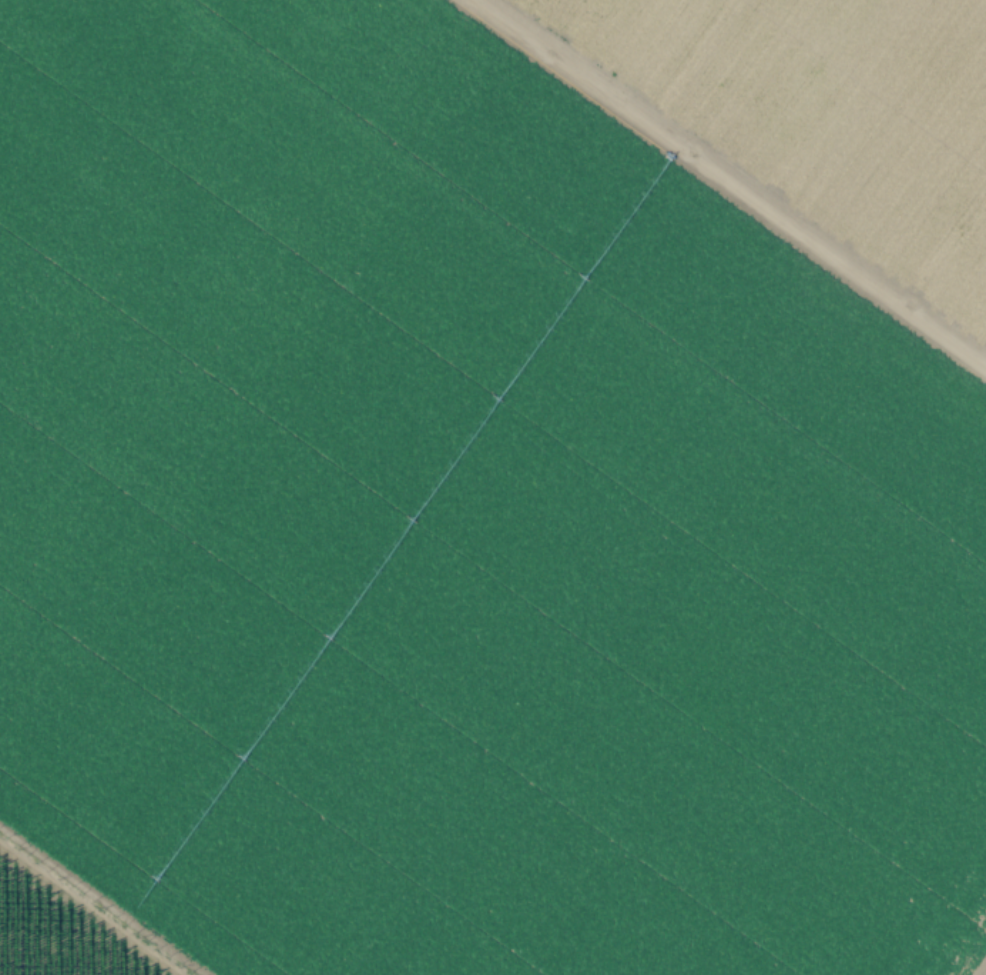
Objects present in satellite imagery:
crop: (492, 490)

